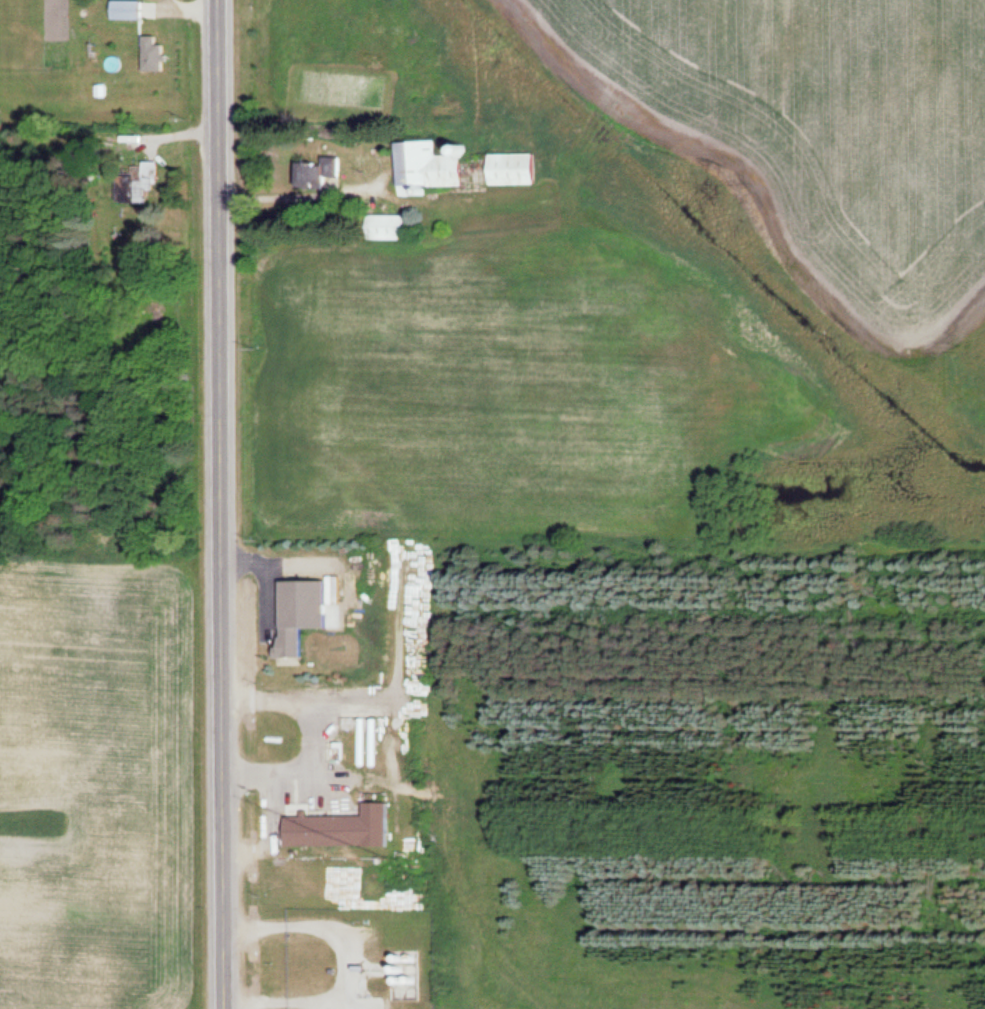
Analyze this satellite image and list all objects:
building: (131, 9)
building: (156, 53)
building: (432, 165)
building: (517, 168)
building: (317, 172)
building: (139, 180)
building: (394, 226)
road: (220, 504)
building: (308, 613)
building: (344, 828)
building: (407, 976)

